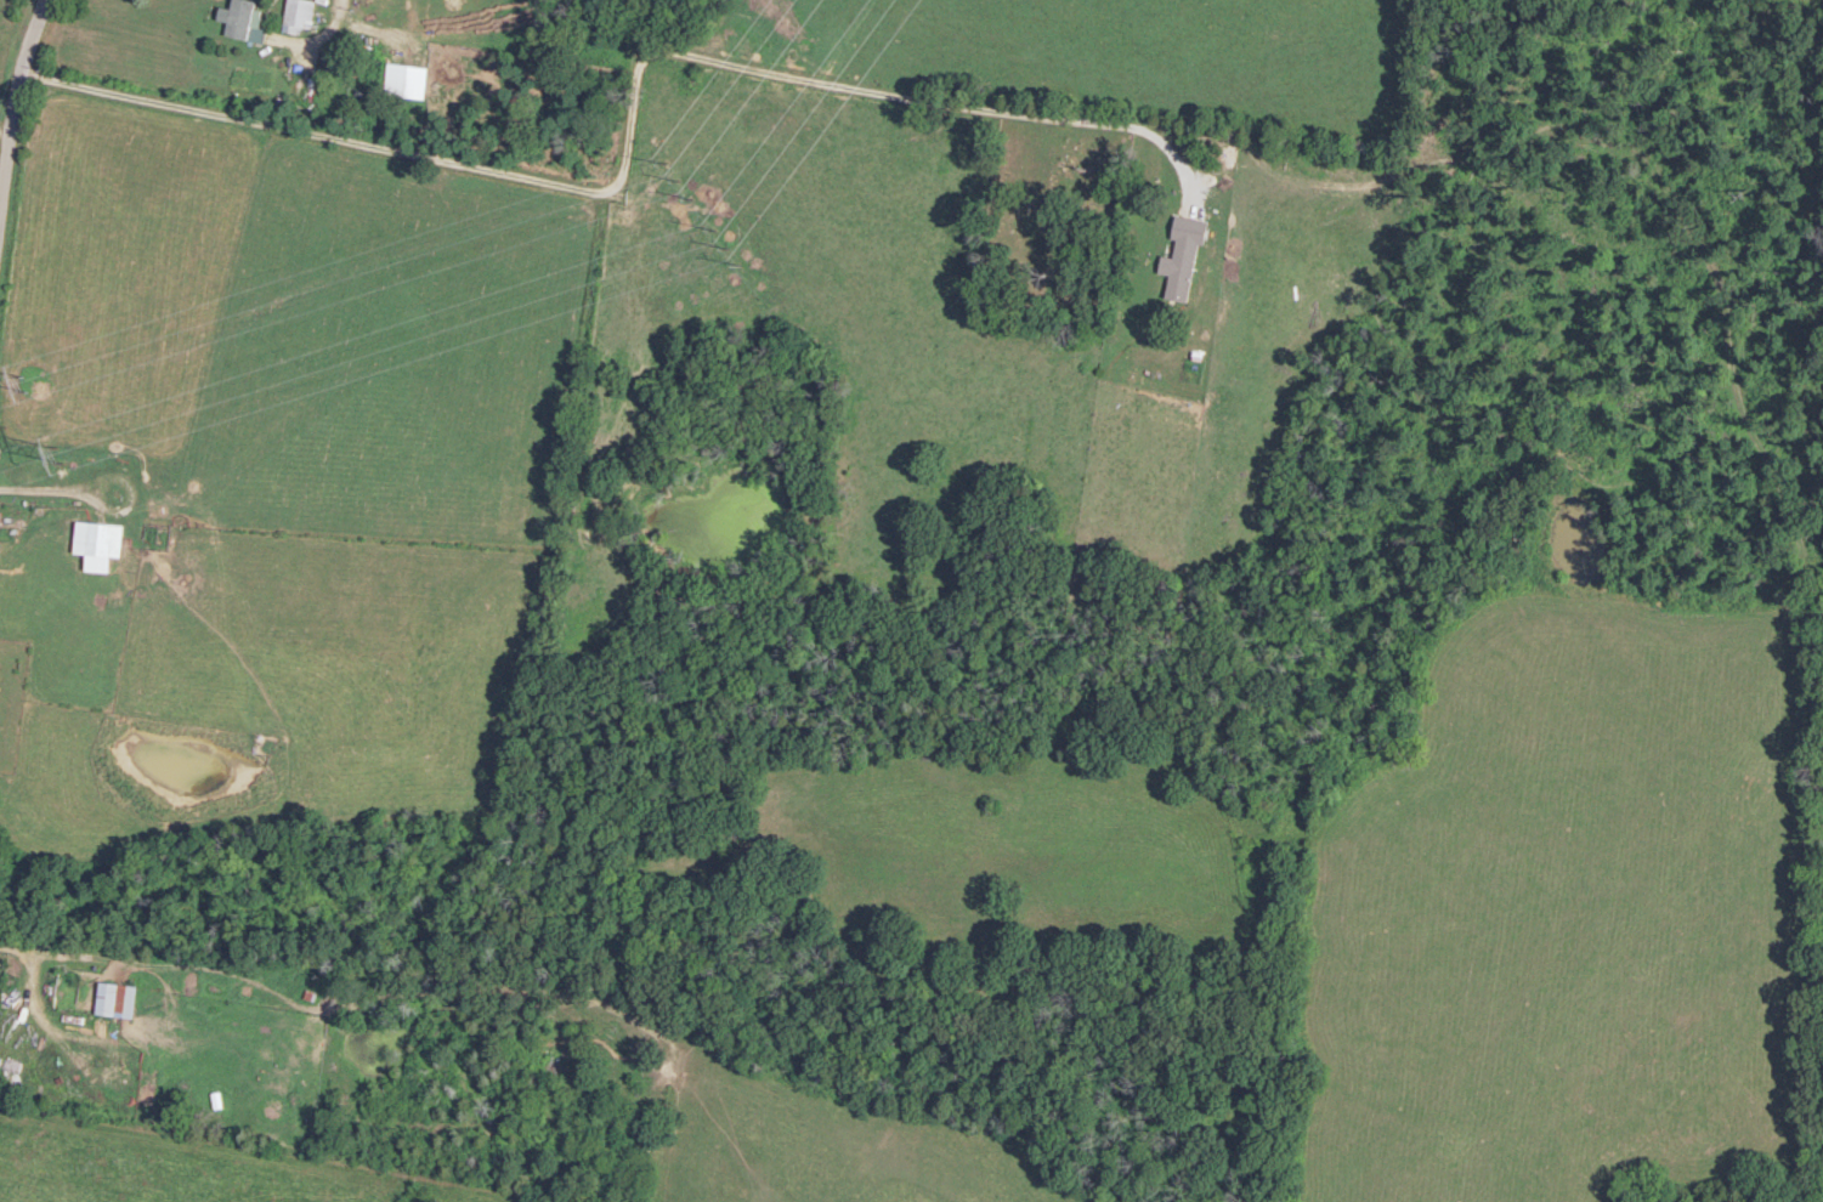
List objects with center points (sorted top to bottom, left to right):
building: (302, 13)
building: (244, 18)
road: (13, 146)
power tower: (680, 177)
park: (1049, 242)
power tower: (726, 245)
power tower: (24, 382)
power tower: (55, 455)
building: (101, 537)
road: (28, 954)
building: (118, 998)

